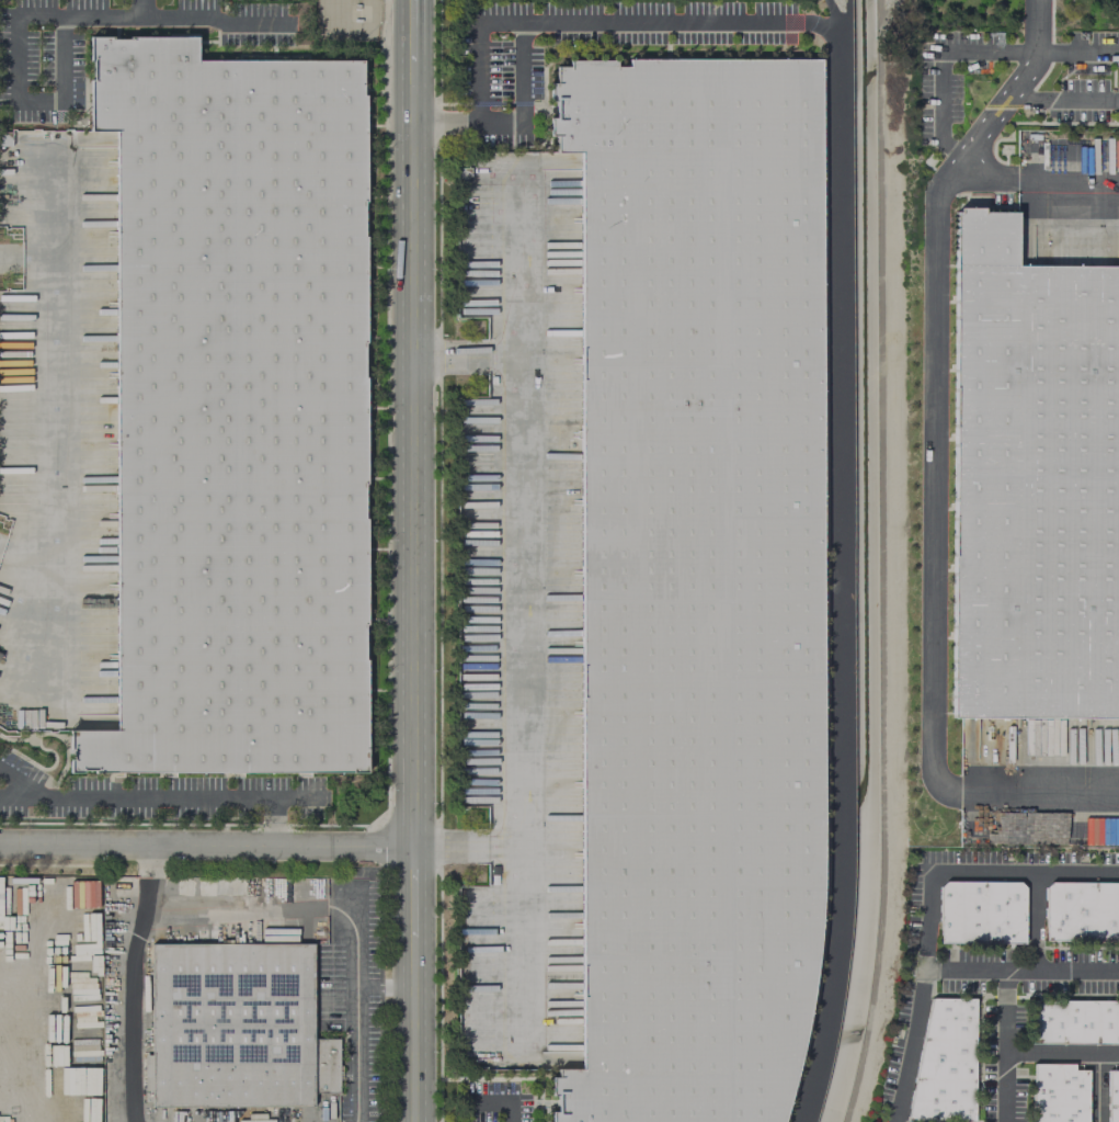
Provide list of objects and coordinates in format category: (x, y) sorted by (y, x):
road: (105, 12)
road: (210, 21)
road: (590, 23)
road: (479, 52)
road: (1078, 53)
road: (940, 64)
road: (1065, 98)
road: (20, 100)
building: (1065, 151)
road: (1032, 184)
road: (48, 363)
building: (235, 409)
road: (934, 467)
building: (1032, 479)
road: (413, 560)
road: (878, 563)
road: (841, 576)
building: (695, 582)
road: (156, 797)
road: (207, 846)
building: (1082, 910)
building: (981, 911)
road: (236, 914)
road: (929, 923)
road: (132, 982)
road: (4, 989)
road: (386, 990)
road: (356, 1006)
building: (1074, 1021)
building: (236, 1027)
road: (910, 1046)
road: (1007, 1046)
road: (1063, 1054)
building: (946, 1064)
road: (1097, 1088)
building: (1057, 1093)
building: (1112, 1095)
road: (496, 1102)
building: (67, 1111)

